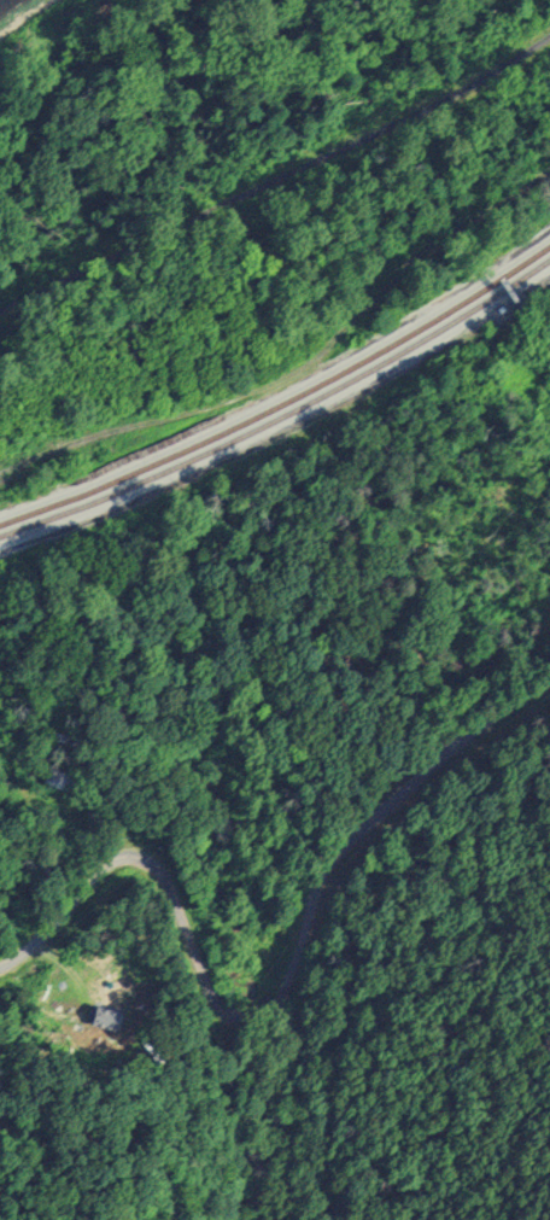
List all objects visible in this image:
road: (277, 176)
railway: (283, 404)
railway: (283, 418)
road: (432, 770)
building: (62, 780)
road: (189, 945)
road: (233, 1120)

